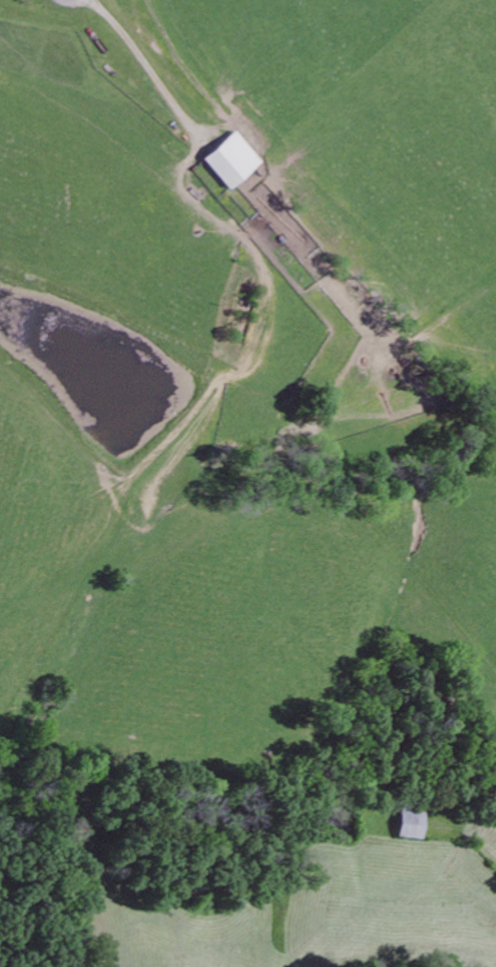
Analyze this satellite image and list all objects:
road: (76, 0)
building: (230, 160)
building: (409, 824)

